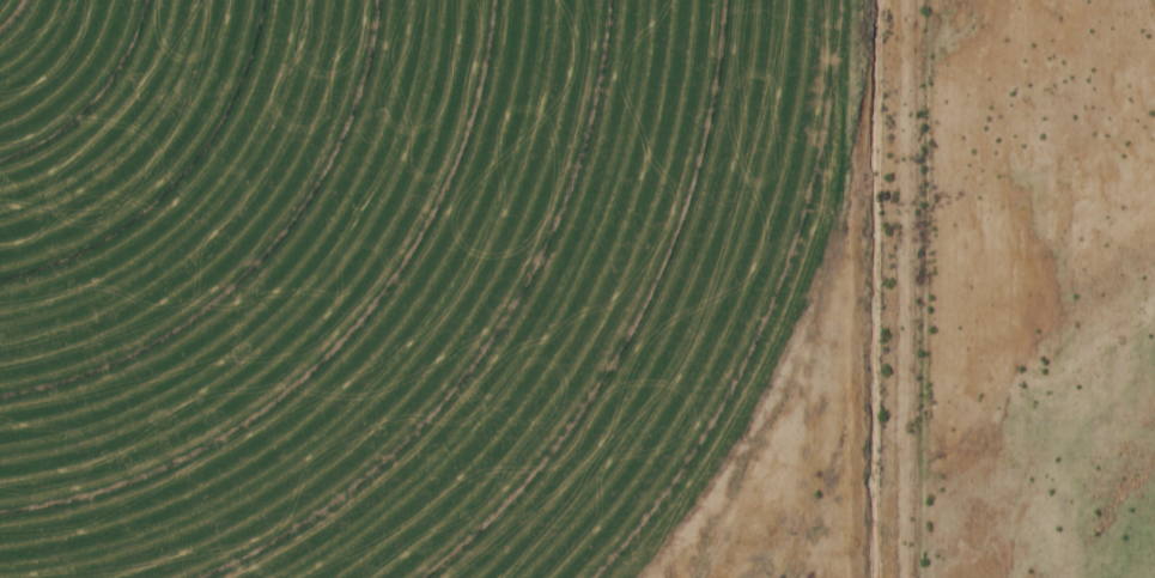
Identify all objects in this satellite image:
crop: (391, 274)

